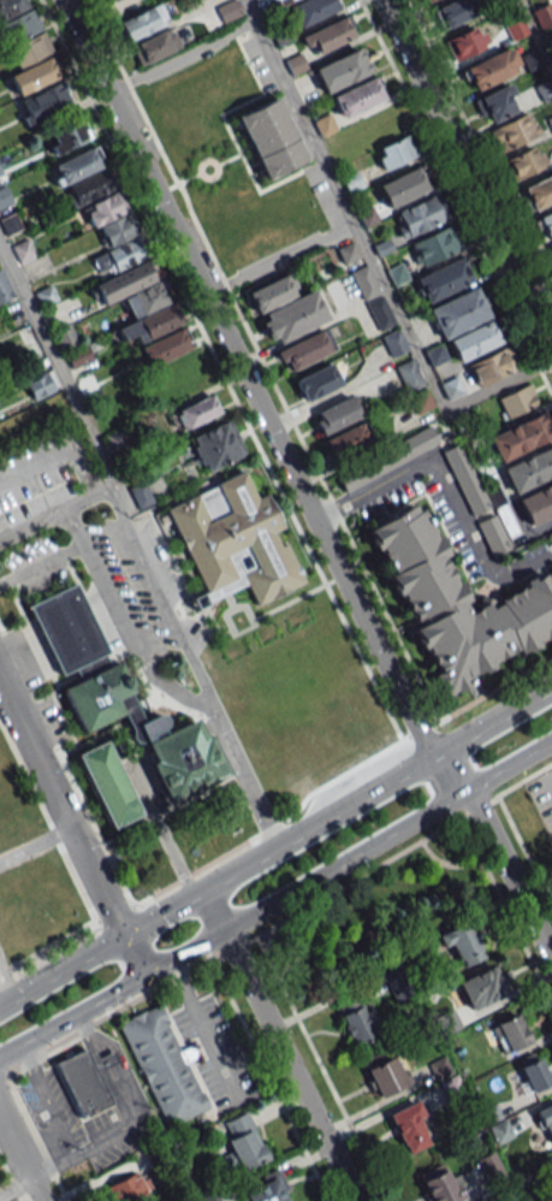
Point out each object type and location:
building: (108, 0)
building: (428, 0)
building: (278, 1)
building: (311, 10)
building: (227, 12)
building: (455, 12)
building: (544, 13)
building: (142, 23)
road: (535, 34)
building: (327, 36)
building: (468, 42)
building: (154, 46)
building: (29, 53)
road: (180, 53)
building: (340, 70)
building: (481, 73)
building: (357, 96)
building: (43, 103)
building: (494, 105)
building: (512, 132)
building: (67, 136)
building: (269, 137)
building: (394, 153)
building: (524, 162)
road: (465, 176)
building: (403, 185)
building: (88, 188)
building: (539, 191)
building: (4, 196)
building: (422, 214)
building: (546, 225)
building: (114, 233)
building: (435, 245)
building: (551, 248)
building: (23, 250)
building: (348, 253)
road: (373, 256)
road: (281, 259)
building: (443, 279)
building: (5, 289)
building: (372, 297)
building: (138, 301)
building: (285, 309)
building: (458, 313)
building: (475, 342)
building: (393, 343)
building: (164, 348)
building: (304, 350)
building: (435, 355)
building: (492, 366)
building: (409, 375)
road: (60, 377)
road: (248, 378)
building: (317, 381)
building: (517, 401)
building: (194, 414)
building: (336, 415)
building: (520, 437)
building: (348, 442)
building: (215, 445)
building: (387, 458)
building: (529, 469)
building: (465, 479)
road: (90, 481)
road: (105, 490)
road: (447, 491)
building: (141, 496)
building: (536, 503)
road: (71, 528)
building: (233, 543)
road: (41, 564)
building: (457, 604)
building: (67, 632)
road: (132, 639)
road: (195, 675)
road: (495, 720)
building: (147, 732)
road: (509, 763)
road: (452, 770)
building: (107, 785)
parking lot: (541, 795)
road: (60, 809)
road: (279, 841)
road: (405, 848)
road: (510, 871)
road: (307, 883)
traffic signals: (121, 931)
building: (459, 946)
road: (46, 949)
road: (235, 949)
road: (133, 953)
road: (60, 965)
traffic signals: (147, 976)
building: (480, 988)
road: (72, 1016)
road: (111, 1017)
building: (355, 1018)
road: (201, 1028)
building: (509, 1034)
road: (277, 1043)
parking lot: (215, 1052)
building: (161, 1065)
building: (438, 1067)
building: (385, 1070)
building: (532, 1071)
road: (5, 1075)
road: (269, 1082)
building: (82, 1083)
road: (47, 1101)
road: (131, 1113)
building: (545, 1120)
building: (410, 1126)
building: (242, 1141)
road: (19, 1159)
building: (487, 1162)
building: (439, 1183)
road: (14, 1188)
building: (263, 1188)
building: (125, 1189)
building: (505, 1195)
building: (208, 1197)

